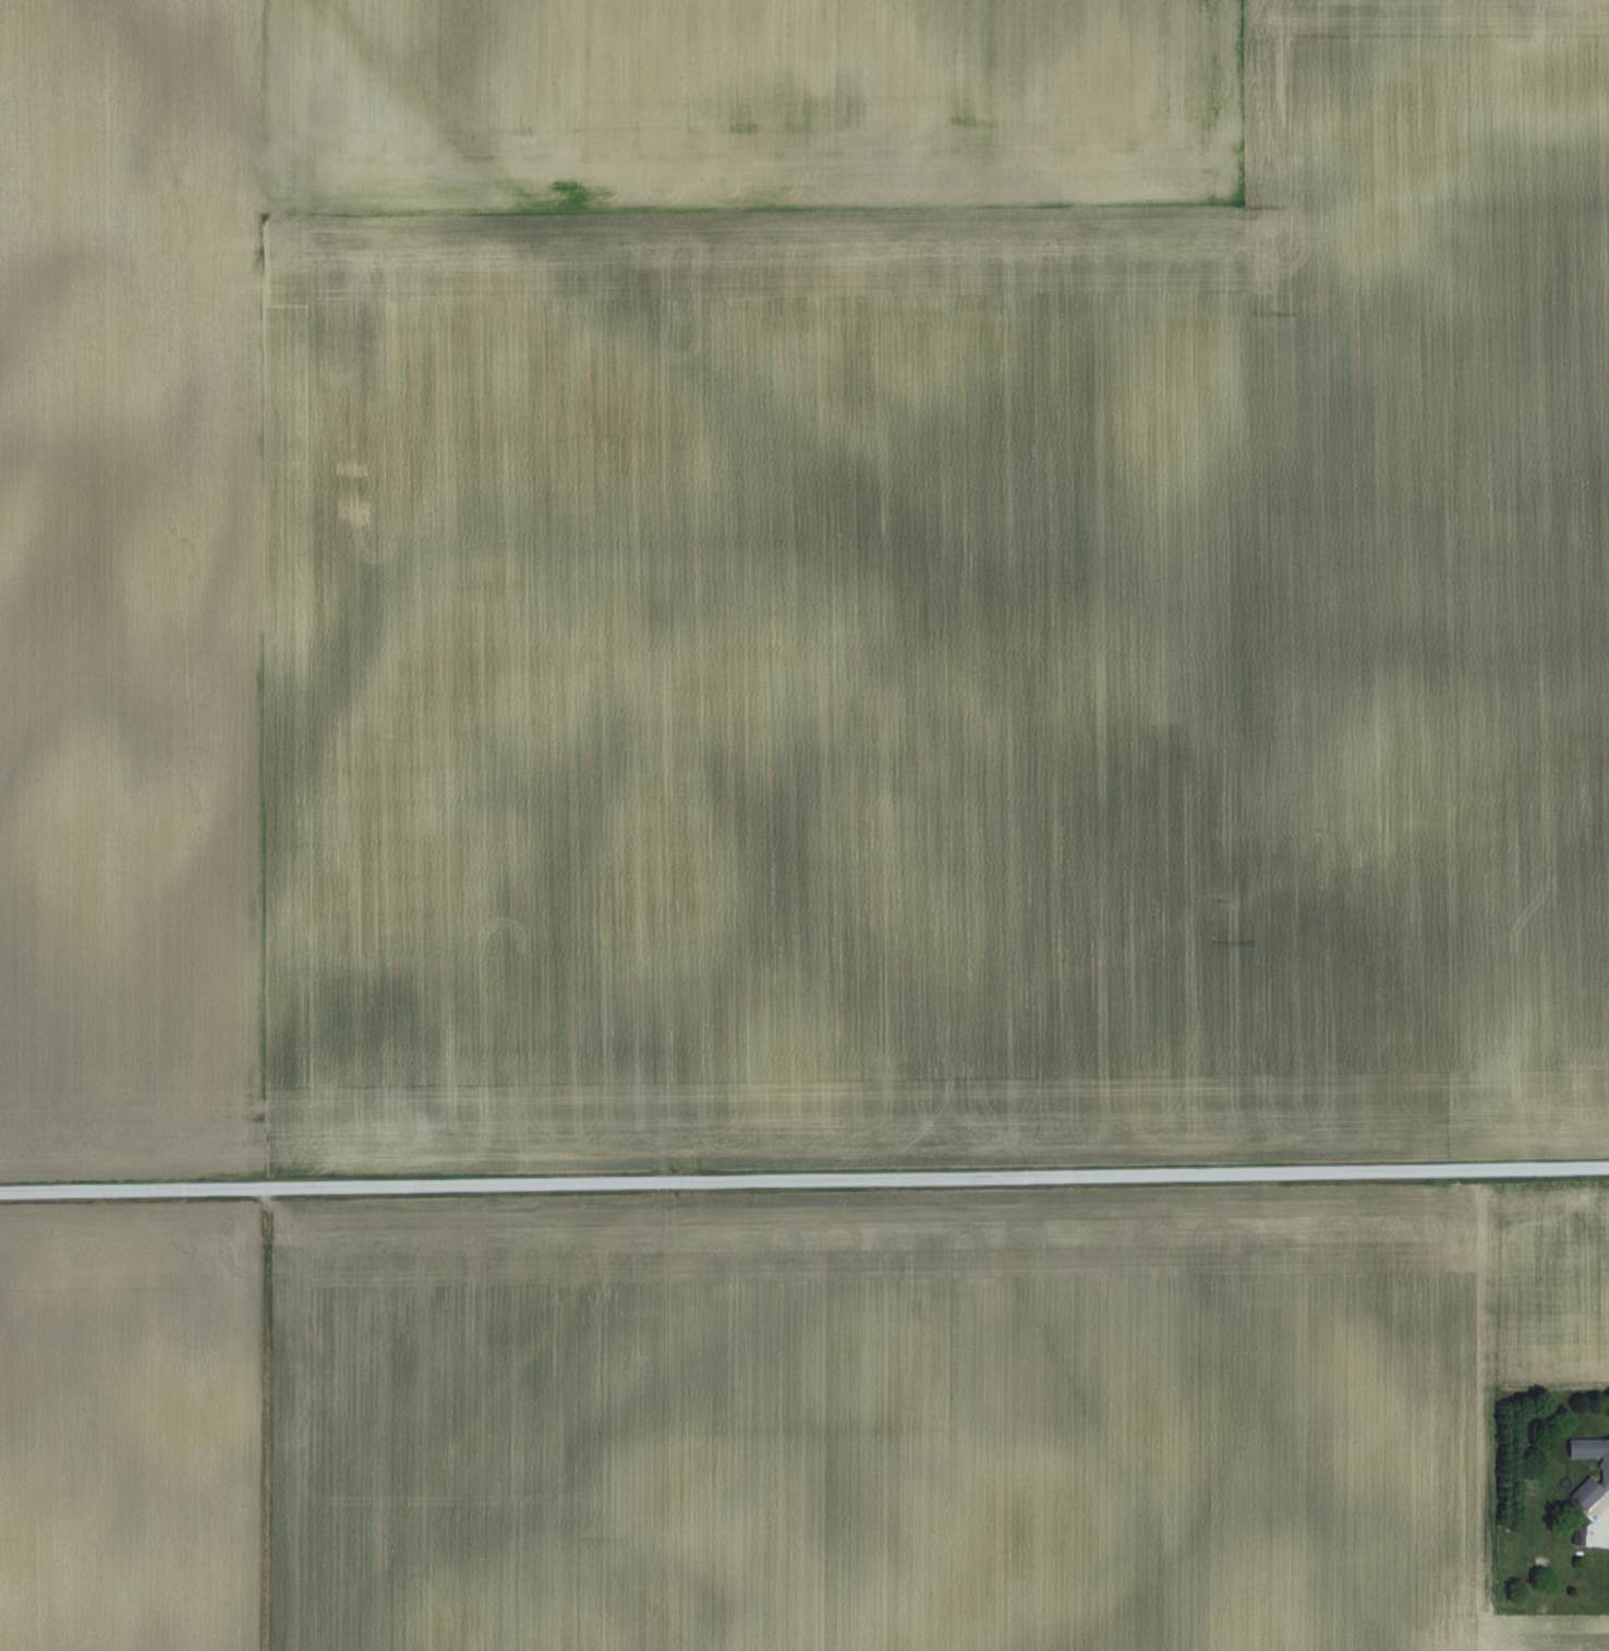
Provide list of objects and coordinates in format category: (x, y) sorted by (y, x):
road: (804, 1173)
road: (252, 1417)
building: (1607, 1466)

